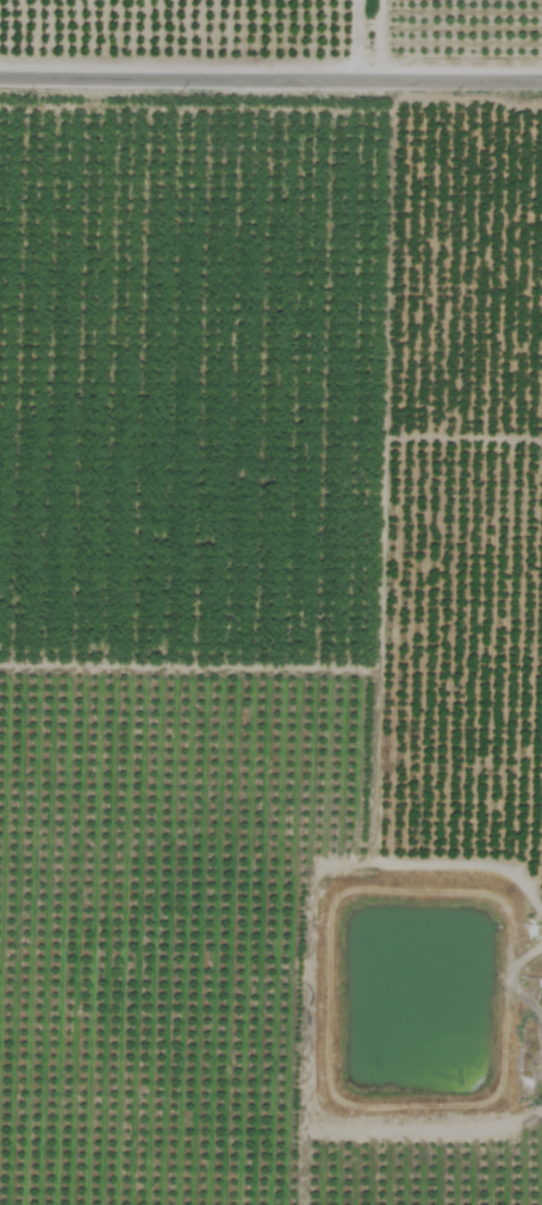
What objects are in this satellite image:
road: (369, 38)
road: (270, 76)
crop: (270, 602)

